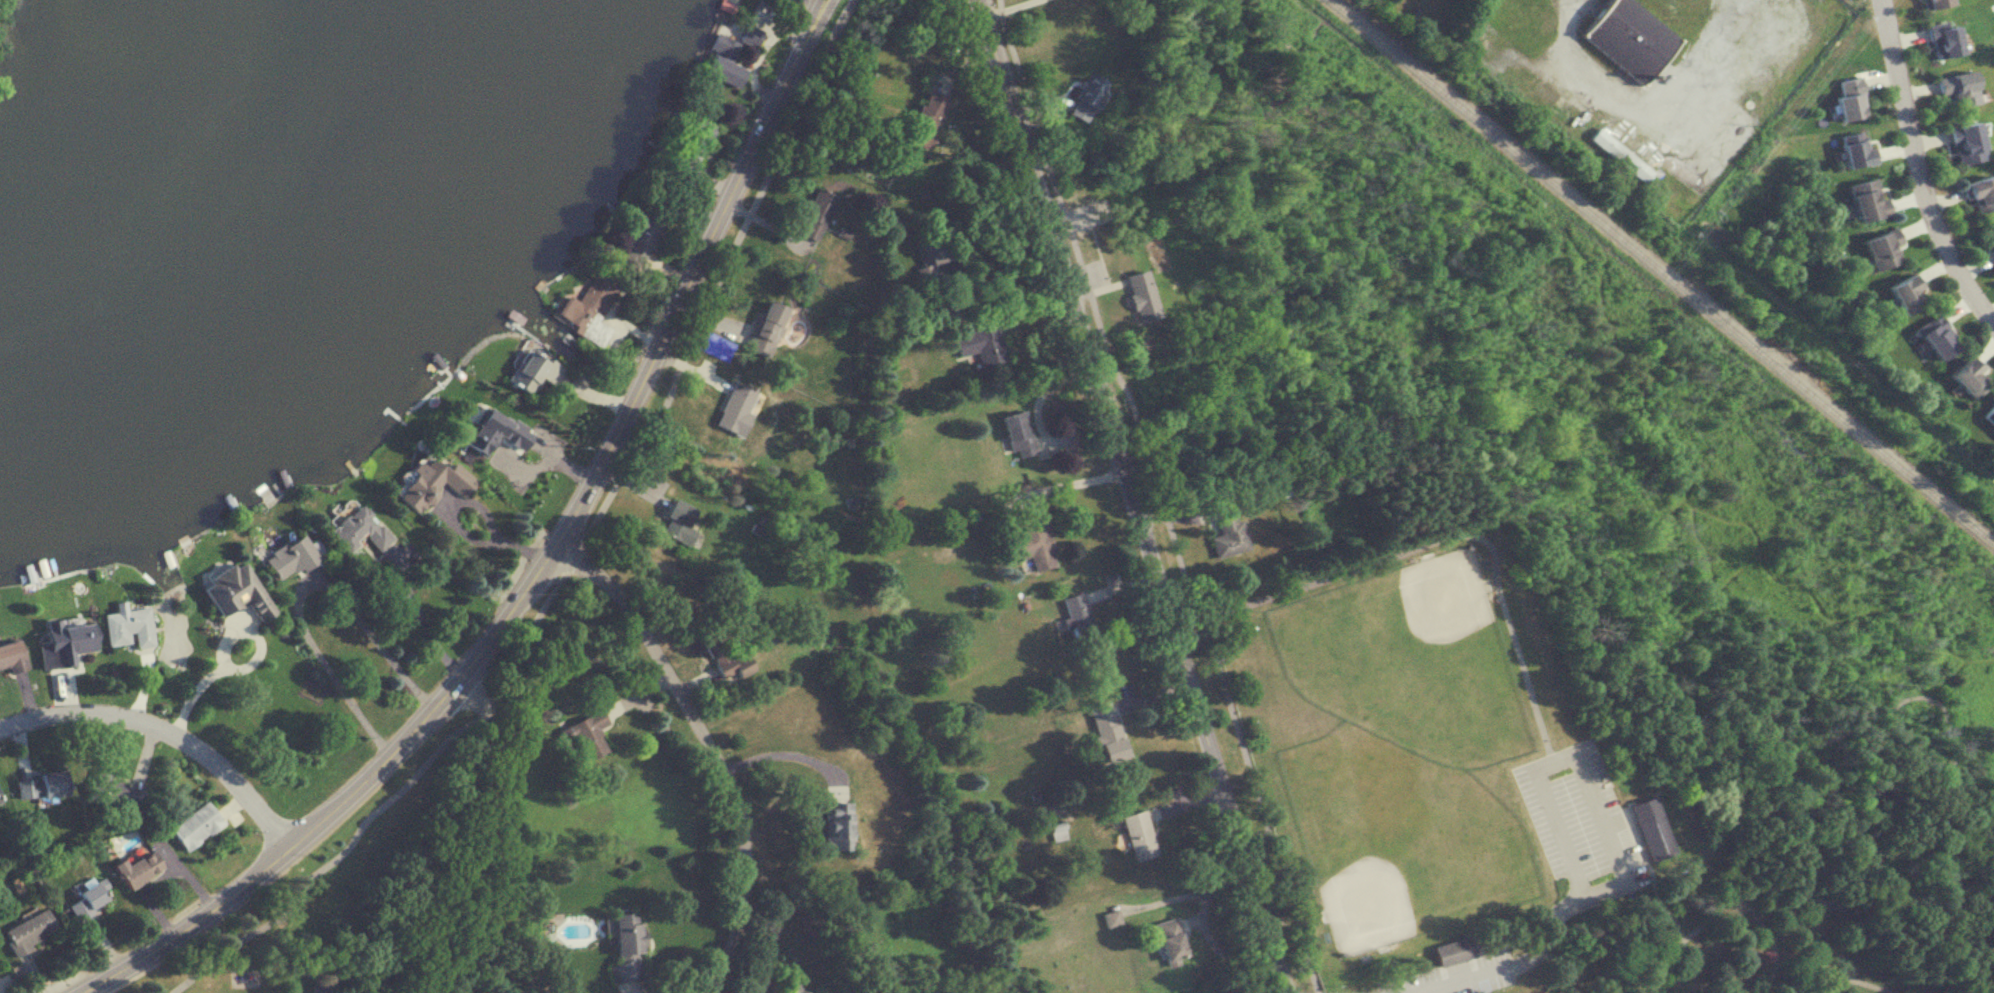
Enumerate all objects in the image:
building: (1932, 3)
road: (1002, 6)
building: (749, 34)
building: (1627, 37)
building: (1941, 39)
building: (721, 60)
road: (1573, 75)
building: (1956, 88)
building: (1085, 97)
building: (1847, 99)
building: (924, 120)
building: (1964, 143)
building: (689, 149)
building: (1854, 151)
building: (1619, 155)
road: (1917, 170)
building: (1978, 193)
building: (1865, 199)
building: (817, 214)
building: (639, 235)
building: (1990, 241)
road: (1002, 243)
building: (930, 247)
building: (1881, 249)
river: (250, 250)
railway: (1661, 273)
building: (1904, 293)
road: (1002, 294)
building: (1139, 296)
building: (587, 307)
road: (675, 308)
building: (767, 328)
building: (1936, 336)
building: (980, 344)
building: (532, 371)
building: (1968, 377)
building: (1149, 385)
building: (735, 406)
building: (486, 428)
building: (1017, 433)
road: (1070, 480)
building: (432, 483)
road: (1134, 495)
road: (1144, 501)
road: (1753, 512)
building: (678, 522)
building: (358, 529)
building: (1226, 532)
road: (1448, 533)
road: (1709, 537)
building: (1033, 543)
road: (576, 551)
building: (288, 557)
road: (303, 586)
building: (234, 591)
park: (1441, 596)
building: (1076, 615)
road: (421, 619)
building: (127, 627)
road: (1707, 635)
building: (67, 637)
road: (1678, 642)
park: (1587, 650)
building: (723, 652)
building: (10, 655)
road: (1947, 670)
park: (1399, 672)
road: (195, 685)
building: (1106, 730)
road: (166, 732)
building: (583, 736)
road: (1830, 740)
road: (782, 746)
road: (710, 748)
road: (1556, 760)
building: (39, 784)
building: (114, 791)
park: (1407, 821)
parking lot: (1579, 821)
road: (317, 824)
building: (194, 825)
building: (835, 825)
building: (1650, 826)
road: (433, 831)
building: (1138, 834)
building: (136, 868)
park: (337, 887)
road: (1781, 892)
building: (87, 900)
park: (1366, 905)
building: (1111, 917)
building: (28, 930)
building: (1169, 939)
road: (1771, 940)
building: (625, 945)
building: (1455, 949)
road: (1530, 955)
parking lot: (1457, 975)
road: (1860, 981)
road: (1480, 984)
building: (796, 989)

